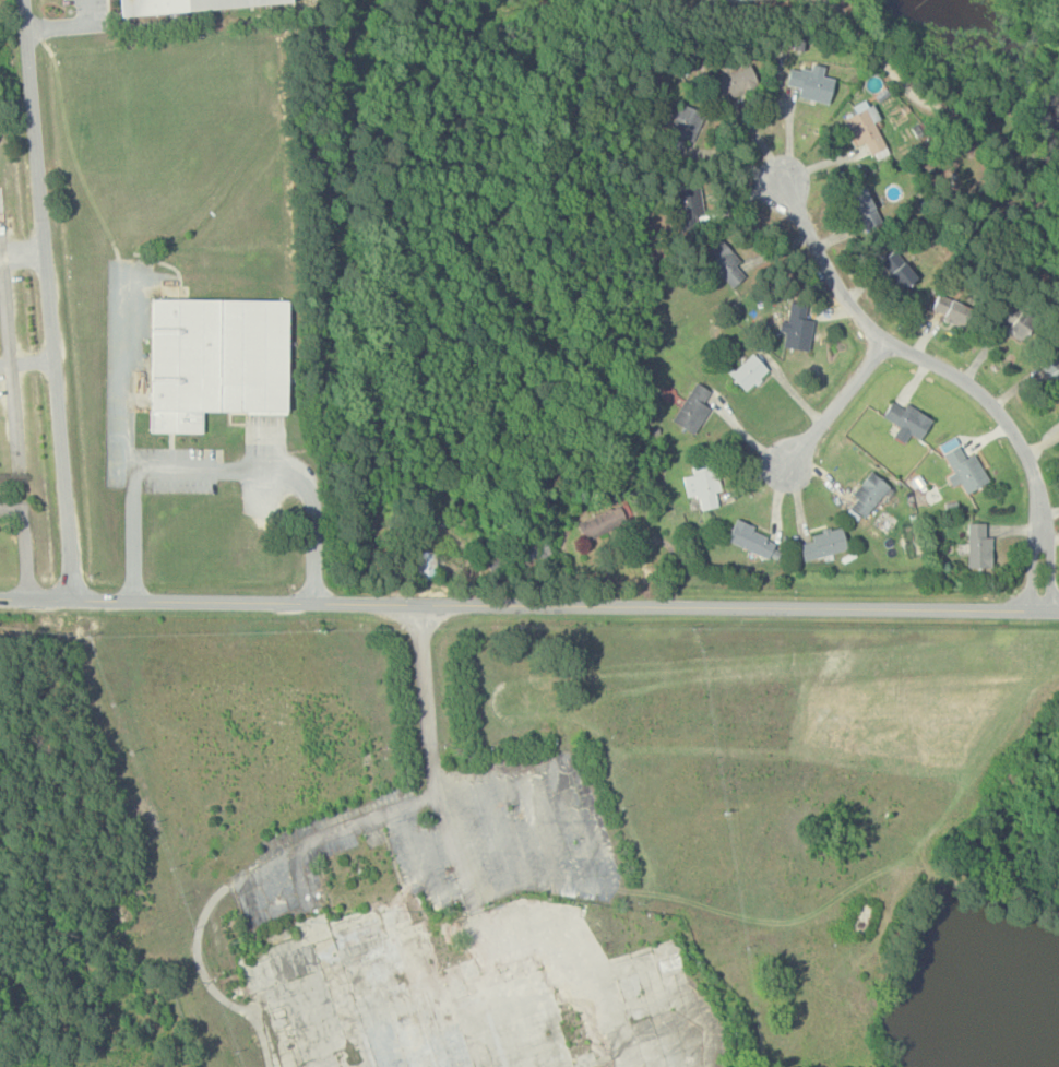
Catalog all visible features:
building: (180, 5)
road: (85, 12)
road: (57, 26)
building: (734, 83)
building: (810, 85)
road: (942, 111)
building: (681, 130)
building: (866, 131)
building: (688, 203)
building: (860, 211)
building: (725, 263)
building: (895, 272)
road: (51, 299)
building: (950, 309)
building: (1013, 325)
building: (797, 328)
road: (5, 336)
building: (216, 358)
road: (33, 364)
road: (4, 366)
building: (747, 371)
road: (951, 372)
building: (1048, 376)
road: (834, 407)
building: (691, 408)
building: (905, 418)
road: (217, 467)
building: (964, 470)
building: (700, 486)
building: (868, 494)
building: (600, 522)
building: (753, 541)
road: (24, 542)
building: (821, 544)
building: (978, 546)
building: (425, 565)
road: (528, 605)
road: (431, 751)
road: (231, 881)
road: (591, 971)

